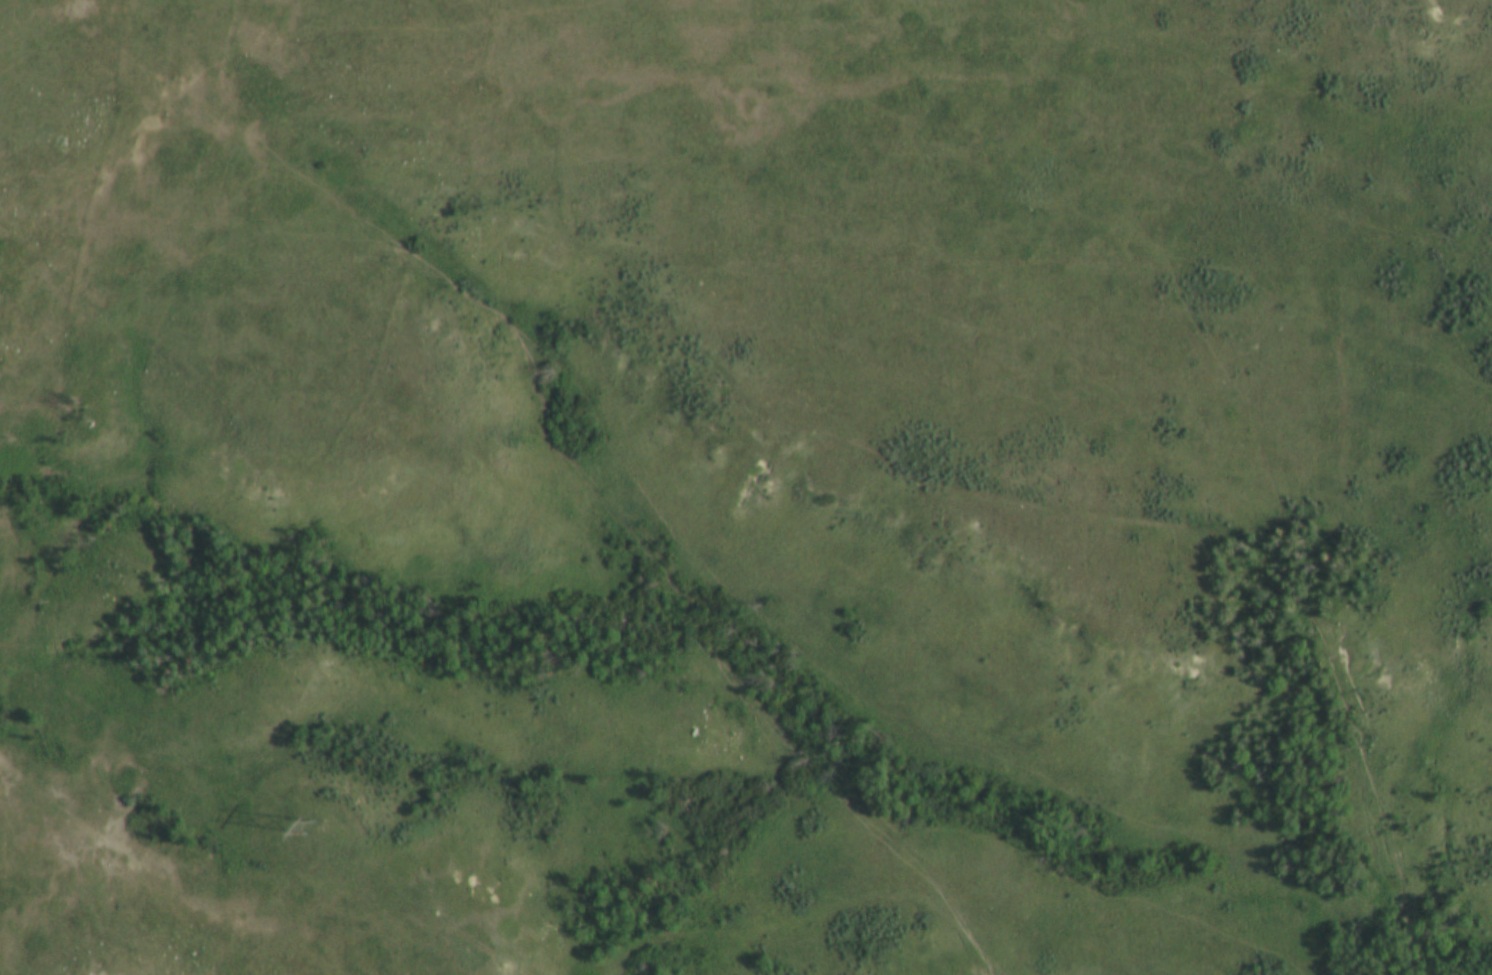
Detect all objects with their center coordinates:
power tower: (314, 829)

